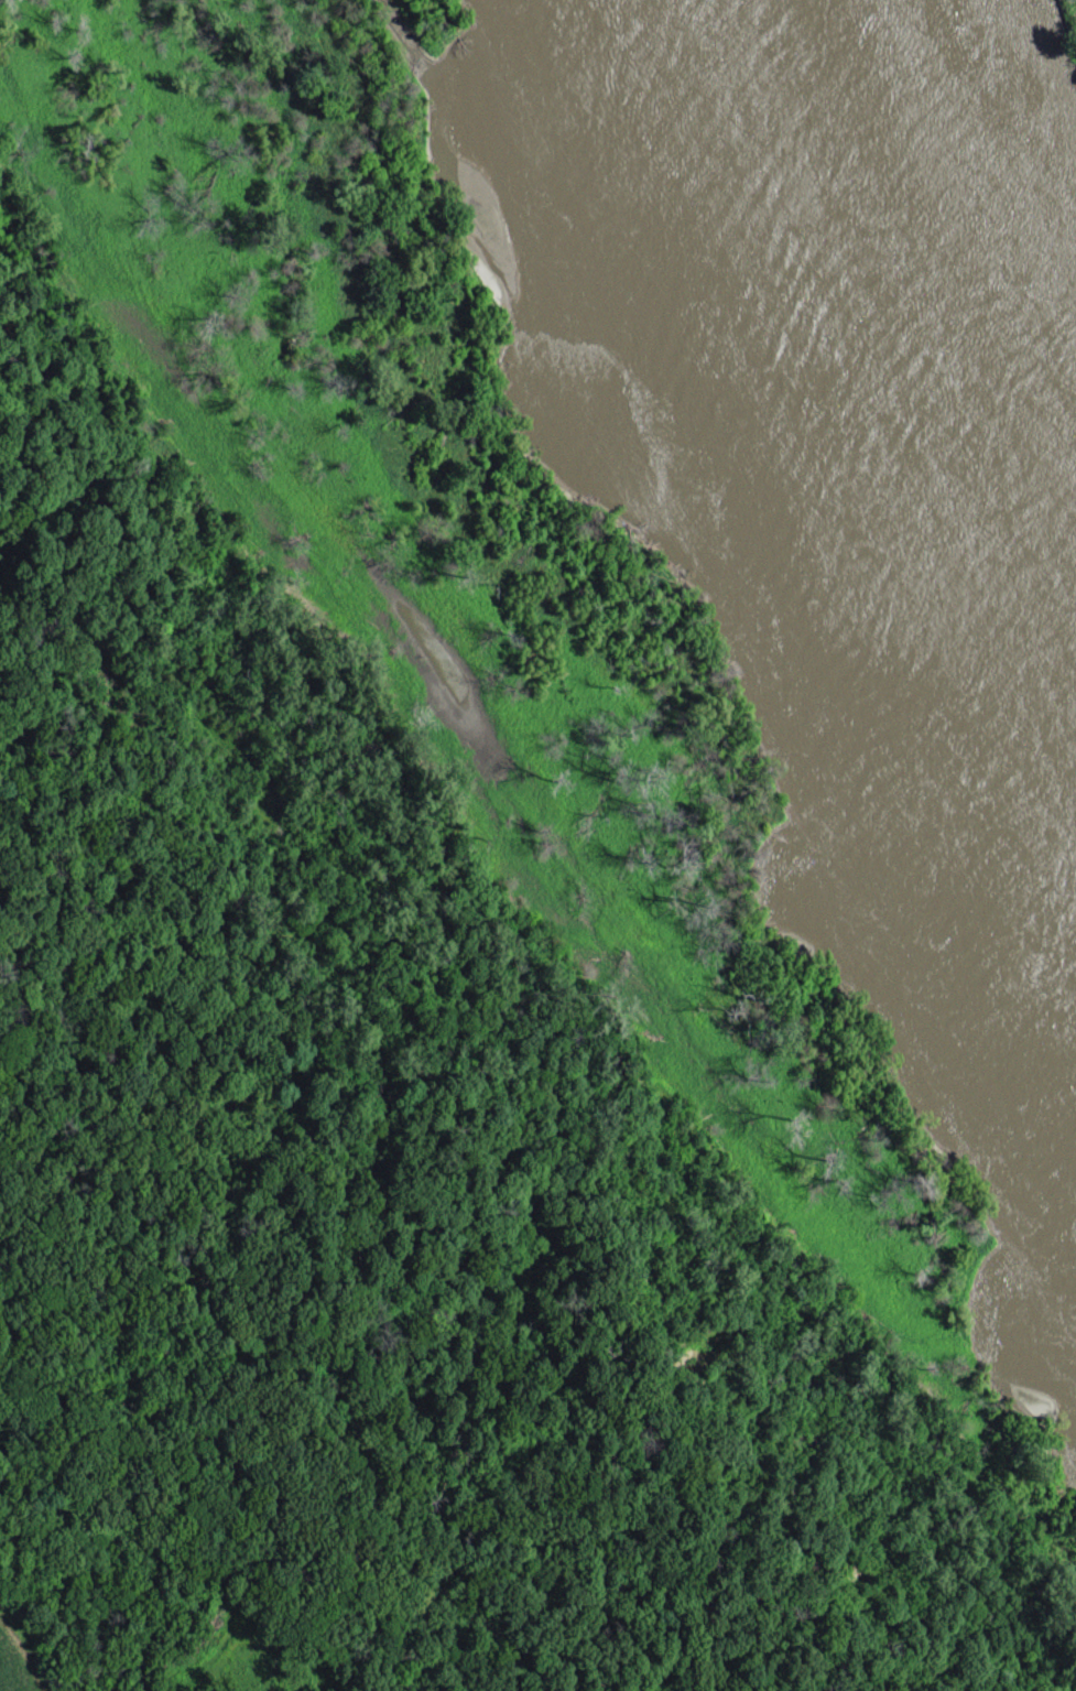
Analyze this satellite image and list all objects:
river: (938, 364)

